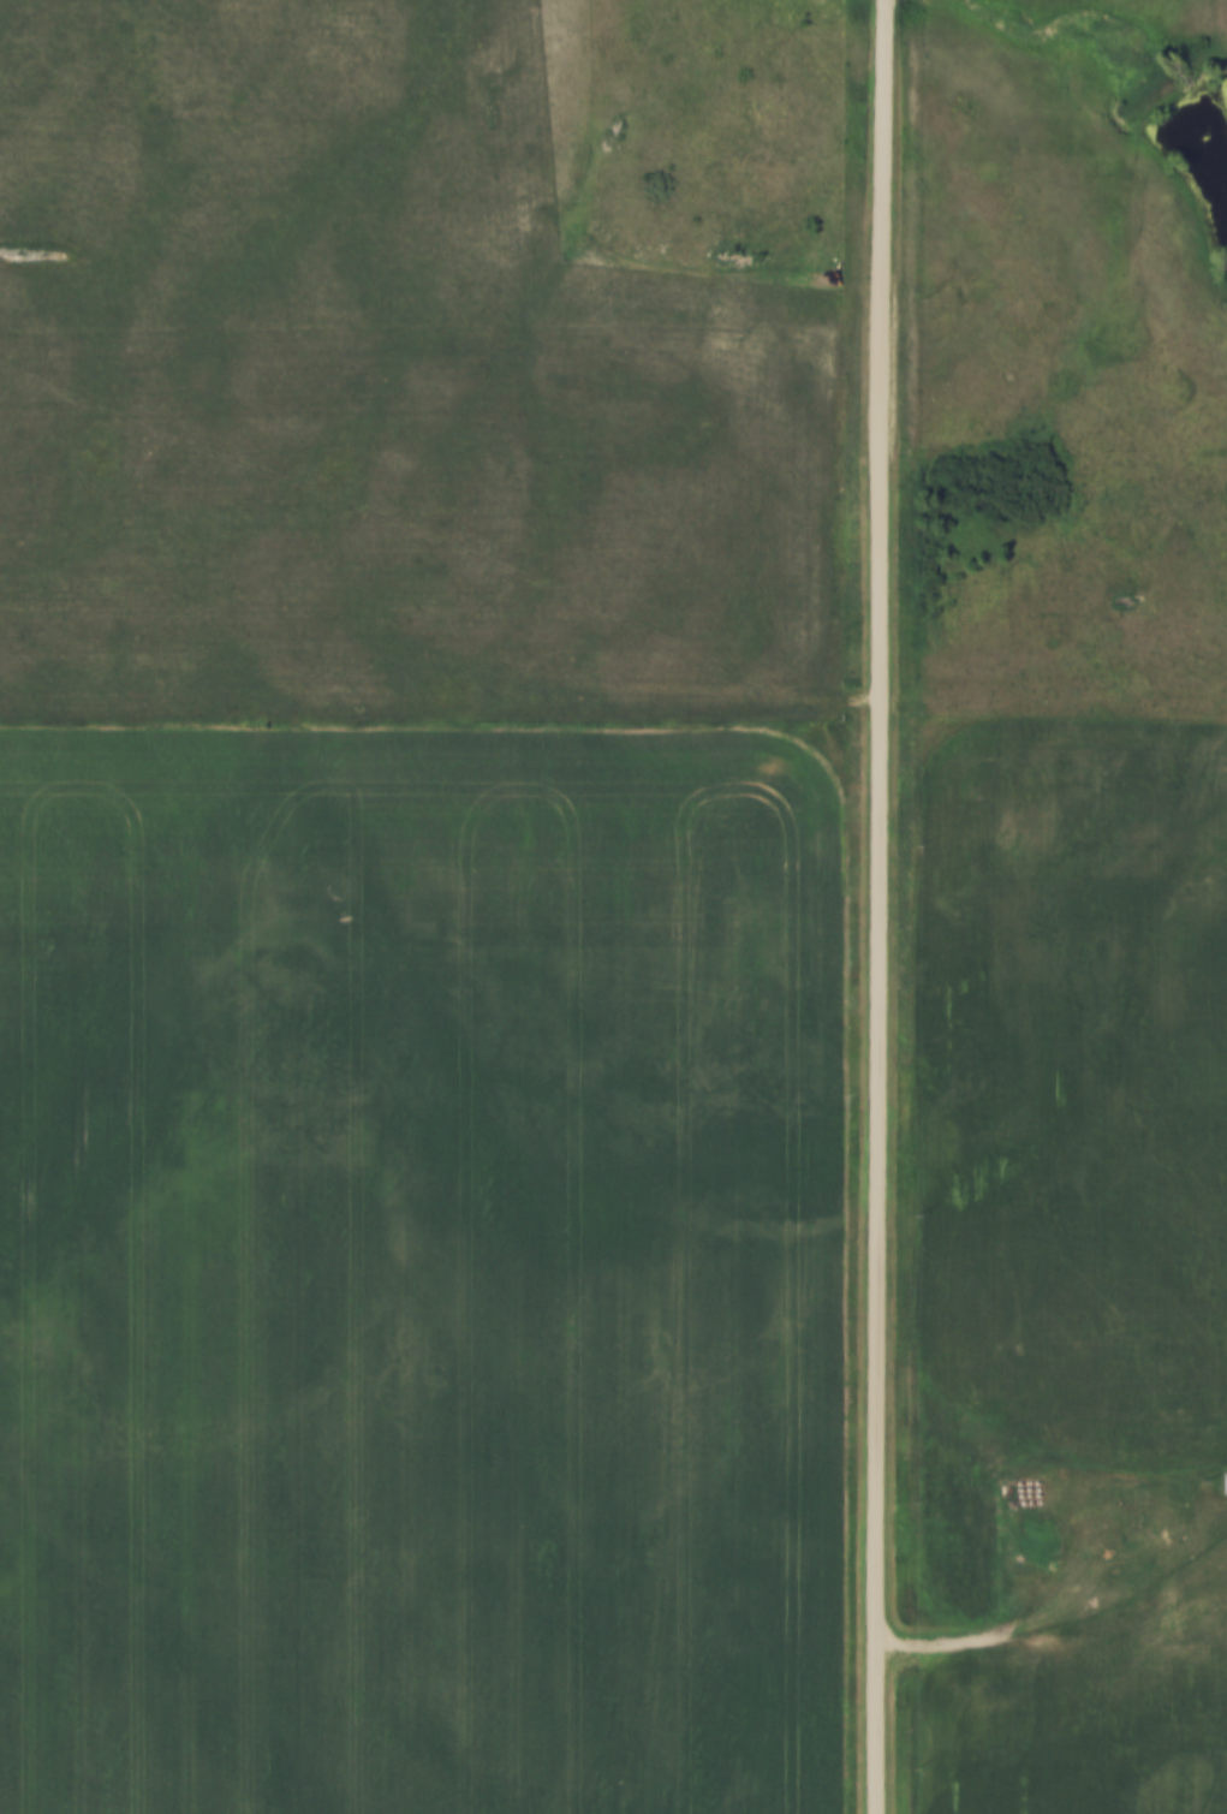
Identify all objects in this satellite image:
road: (875, 906)
building: (1226, 1483)
road: (1077, 1611)

